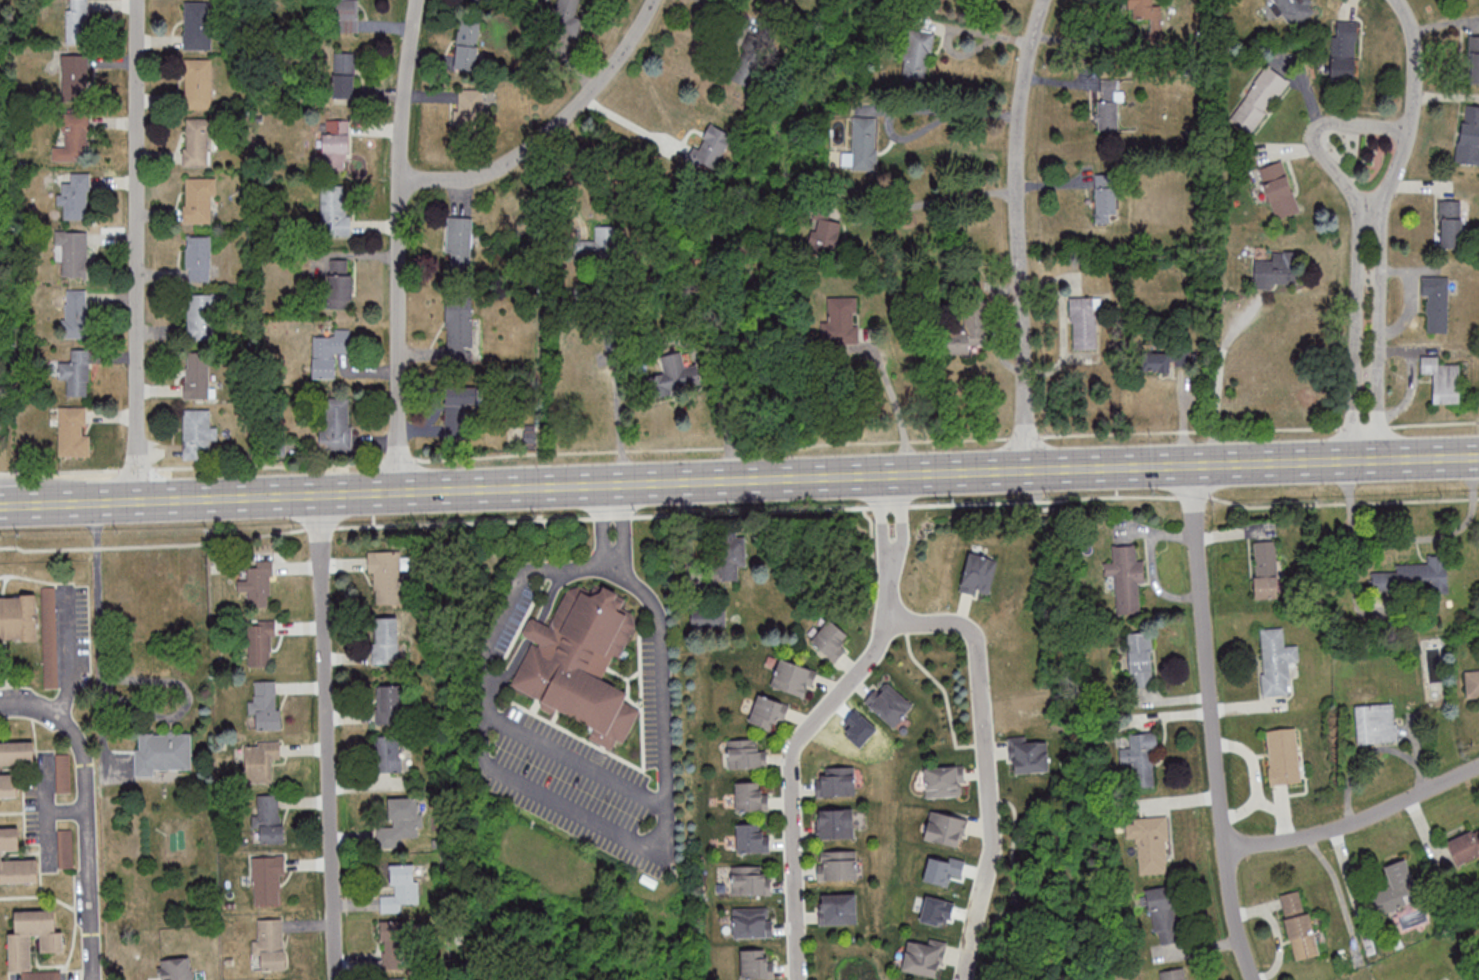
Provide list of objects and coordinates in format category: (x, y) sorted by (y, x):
building: (781, 0)
building: (1459, 0)
building: (1294, 10)
building: (1147, 14)
building: (347, 16)
building: (566, 18)
building: (77, 21)
building: (198, 25)
road: (1084, 42)
building: (468, 44)
building: (1344, 50)
building: (918, 55)
building: (1473, 60)
building: (344, 75)
building: (198, 84)
building: (1259, 99)
building: (1108, 105)
road: (909, 108)
building: (471, 110)
road: (631, 123)
road: (551, 128)
road: (1313, 134)
building: (74, 136)
building: (1469, 136)
building: (196, 142)
building: (336, 144)
building: (864, 144)
building: (711, 147)
building: (1278, 189)
building: (76, 197)
building: (1105, 197)
road: (943, 198)
building: (200, 200)
building: (334, 210)
road: (1369, 223)
building: (1450, 224)
road: (1019, 234)
building: (825, 237)
building: (459, 243)
building: (600, 243)
road: (401, 245)
road: (138, 250)
building: (72, 252)
building: (198, 258)
building: (1277, 268)
building: (340, 284)
building: (1436, 302)
building: (75, 313)
building: (201, 316)
building: (841, 321)
building: (1083, 323)
building: (967, 325)
building: (459, 331)
building: (326, 355)
building: (1164, 359)
building: (76, 372)
building: (197, 375)
building: (675, 376)
building: (1442, 379)
road: (895, 407)
building: (456, 410)
building: (336, 423)
road: (726, 424)
road: (621, 431)
building: (73, 432)
building: (197, 433)
road: (739, 447)
road: (754, 479)
road: (15, 504)
road: (739, 511)
road: (1407, 538)
road: (890, 545)
building: (728, 557)
road: (1152, 563)
building: (1265, 569)
building: (978, 574)
building: (385, 575)
building: (1415, 577)
building: (1126, 578)
building: (258, 585)
building: (48, 602)
building: (18, 617)
building: (386, 640)
building: (831, 642)
building: (261, 644)
road: (69, 652)
building: (1140, 659)
building: (1276, 661)
building: (581, 664)
road: (113, 679)
building: (793, 680)
building: (1472, 683)
building: (388, 704)
building: (889, 704)
building: (266, 706)
road: (30, 707)
building: (768, 713)
building: (1376, 723)
road: (1213, 724)
road: (329, 737)
building: (162, 752)
building: (17, 753)
building: (389, 753)
building: (1027, 755)
building: (745, 756)
building: (1283, 756)
building: (1141, 758)
building: (260, 761)
road: (986, 761)
road: (790, 781)
building: (944, 781)
building: (836, 782)
building: (8, 786)
building: (751, 799)
building: (269, 818)
road: (1357, 821)
building: (401, 822)
road: (608, 823)
building: (835, 824)
building: (946, 829)
building: (752, 839)
building: (1151, 843)
road: (88, 844)
building: (1465, 847)
building: (65, 848)
building: (15, 860)
building: (837, 865)
building: (268, 879)
building: (751, 881)
building: (400, 888)
building: (1396, 888)
building: (838, 909)
building: (1164, 915)
building: (752, 922)
building: (1298, 924)
building: (20, 943)
building: (270, 943)
building: (395, 944)
building: (925, 957)
building: (756, 965)
building: (177, 968)
building: (1174, 974)
building: (395, 978)

